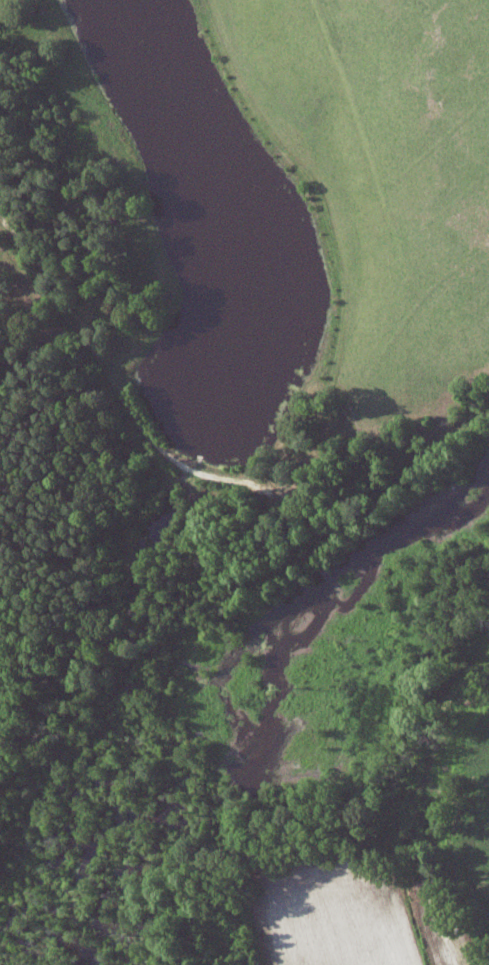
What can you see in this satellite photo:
road: (86, 352)

